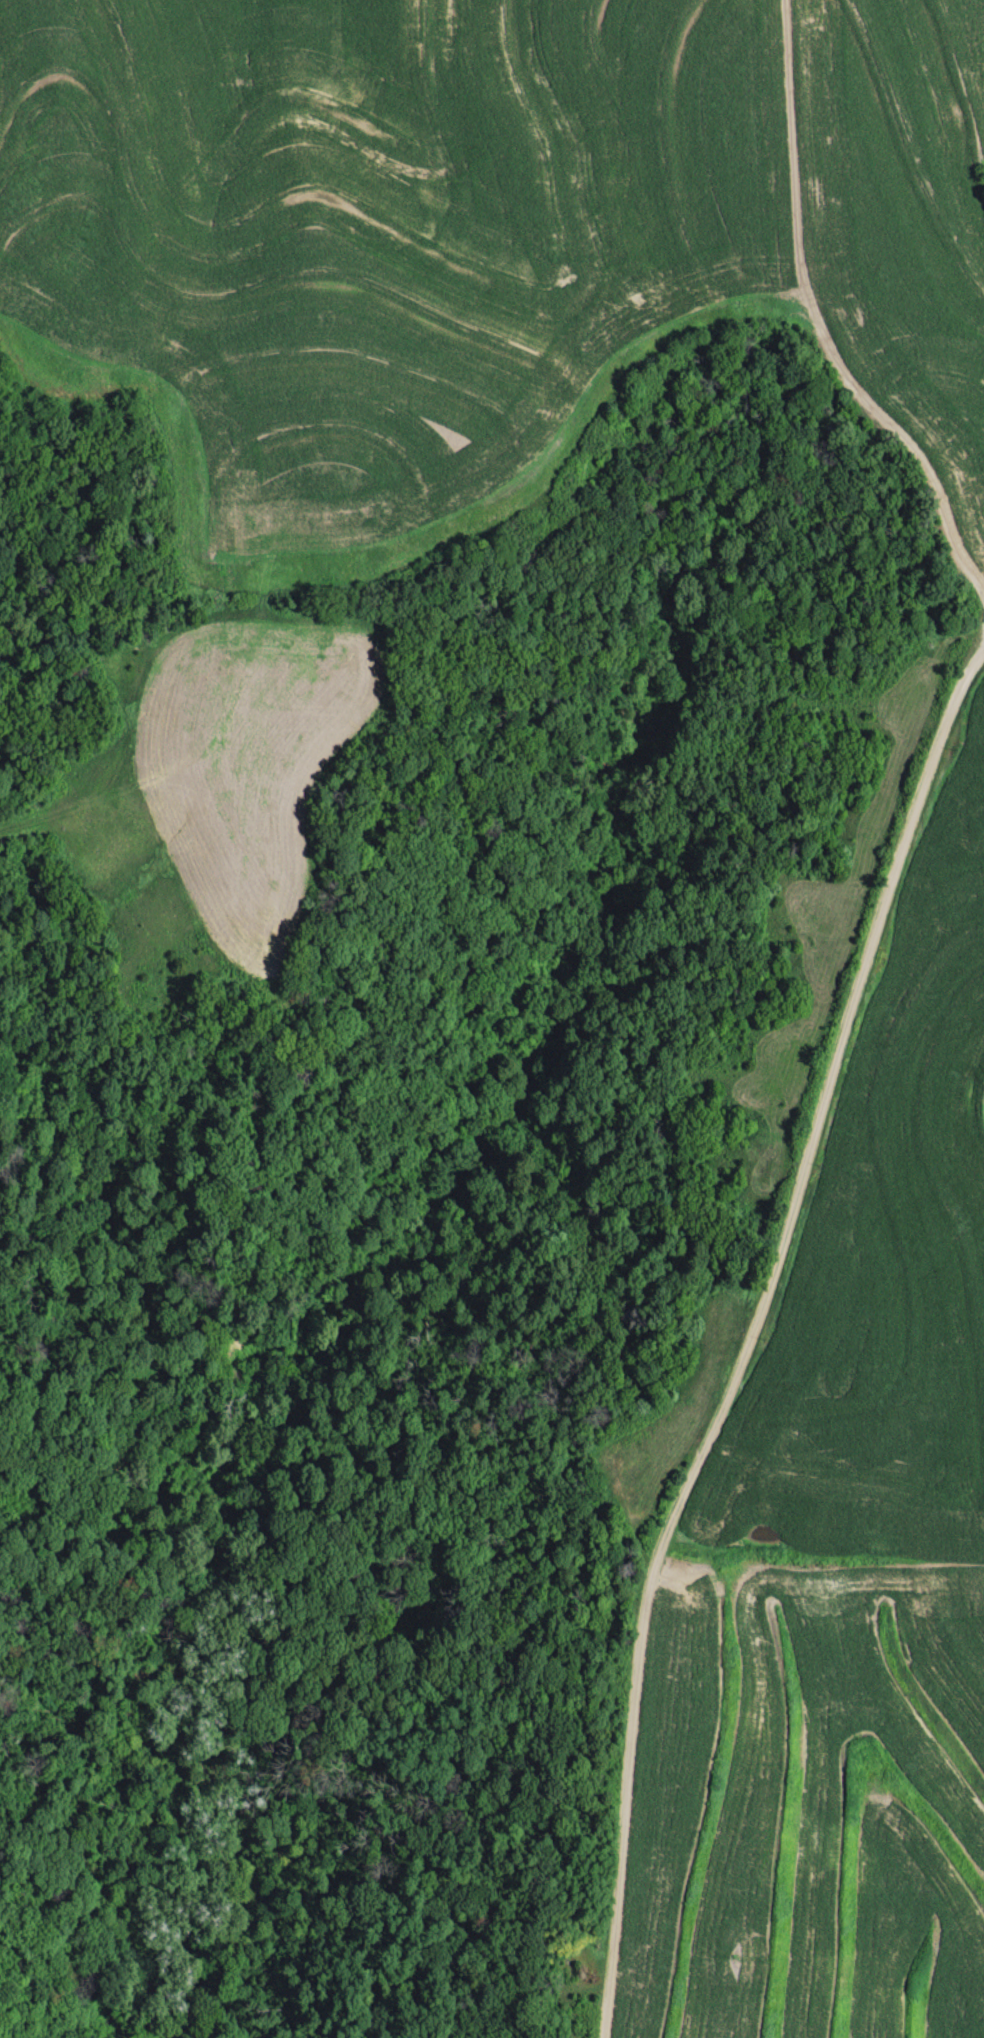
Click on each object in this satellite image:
road: (730, 1333)

